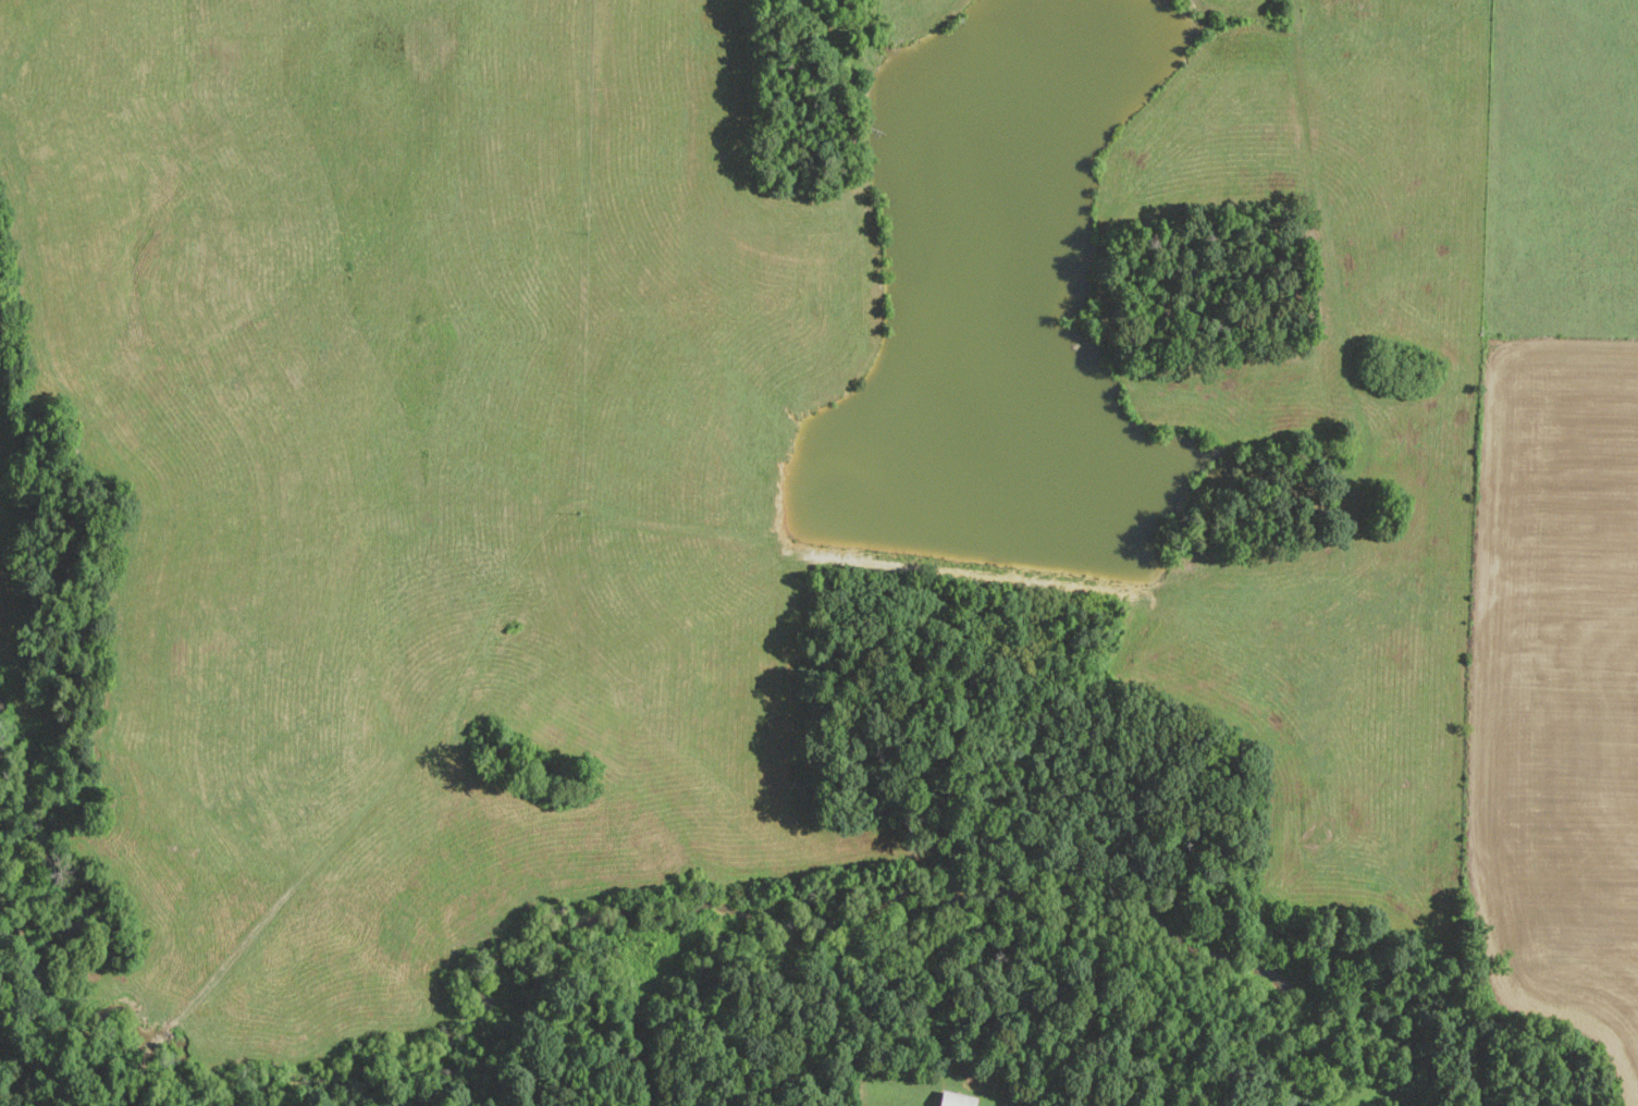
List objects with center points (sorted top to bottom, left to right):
building: (953, 1099)

